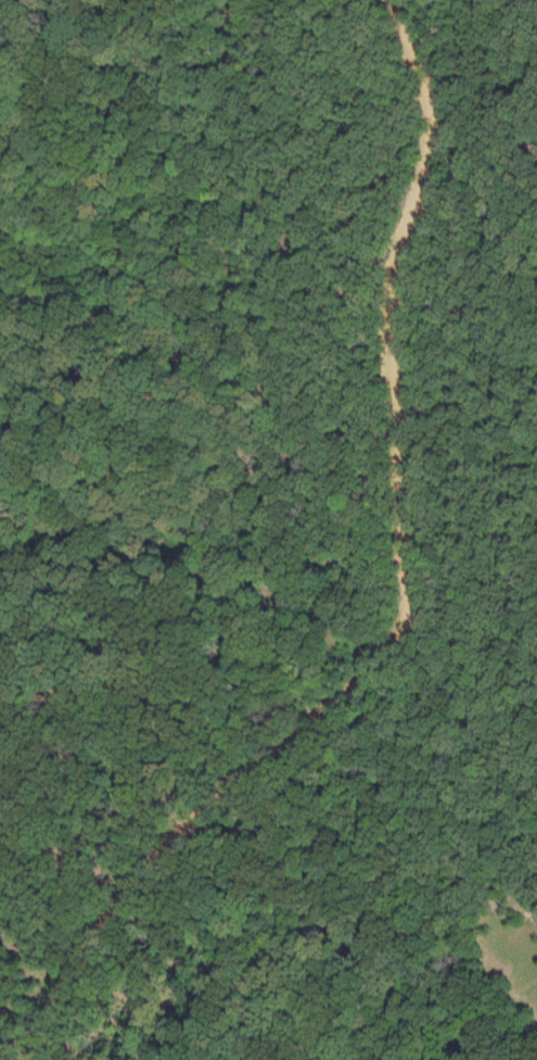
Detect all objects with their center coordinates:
road: (406, 596)

